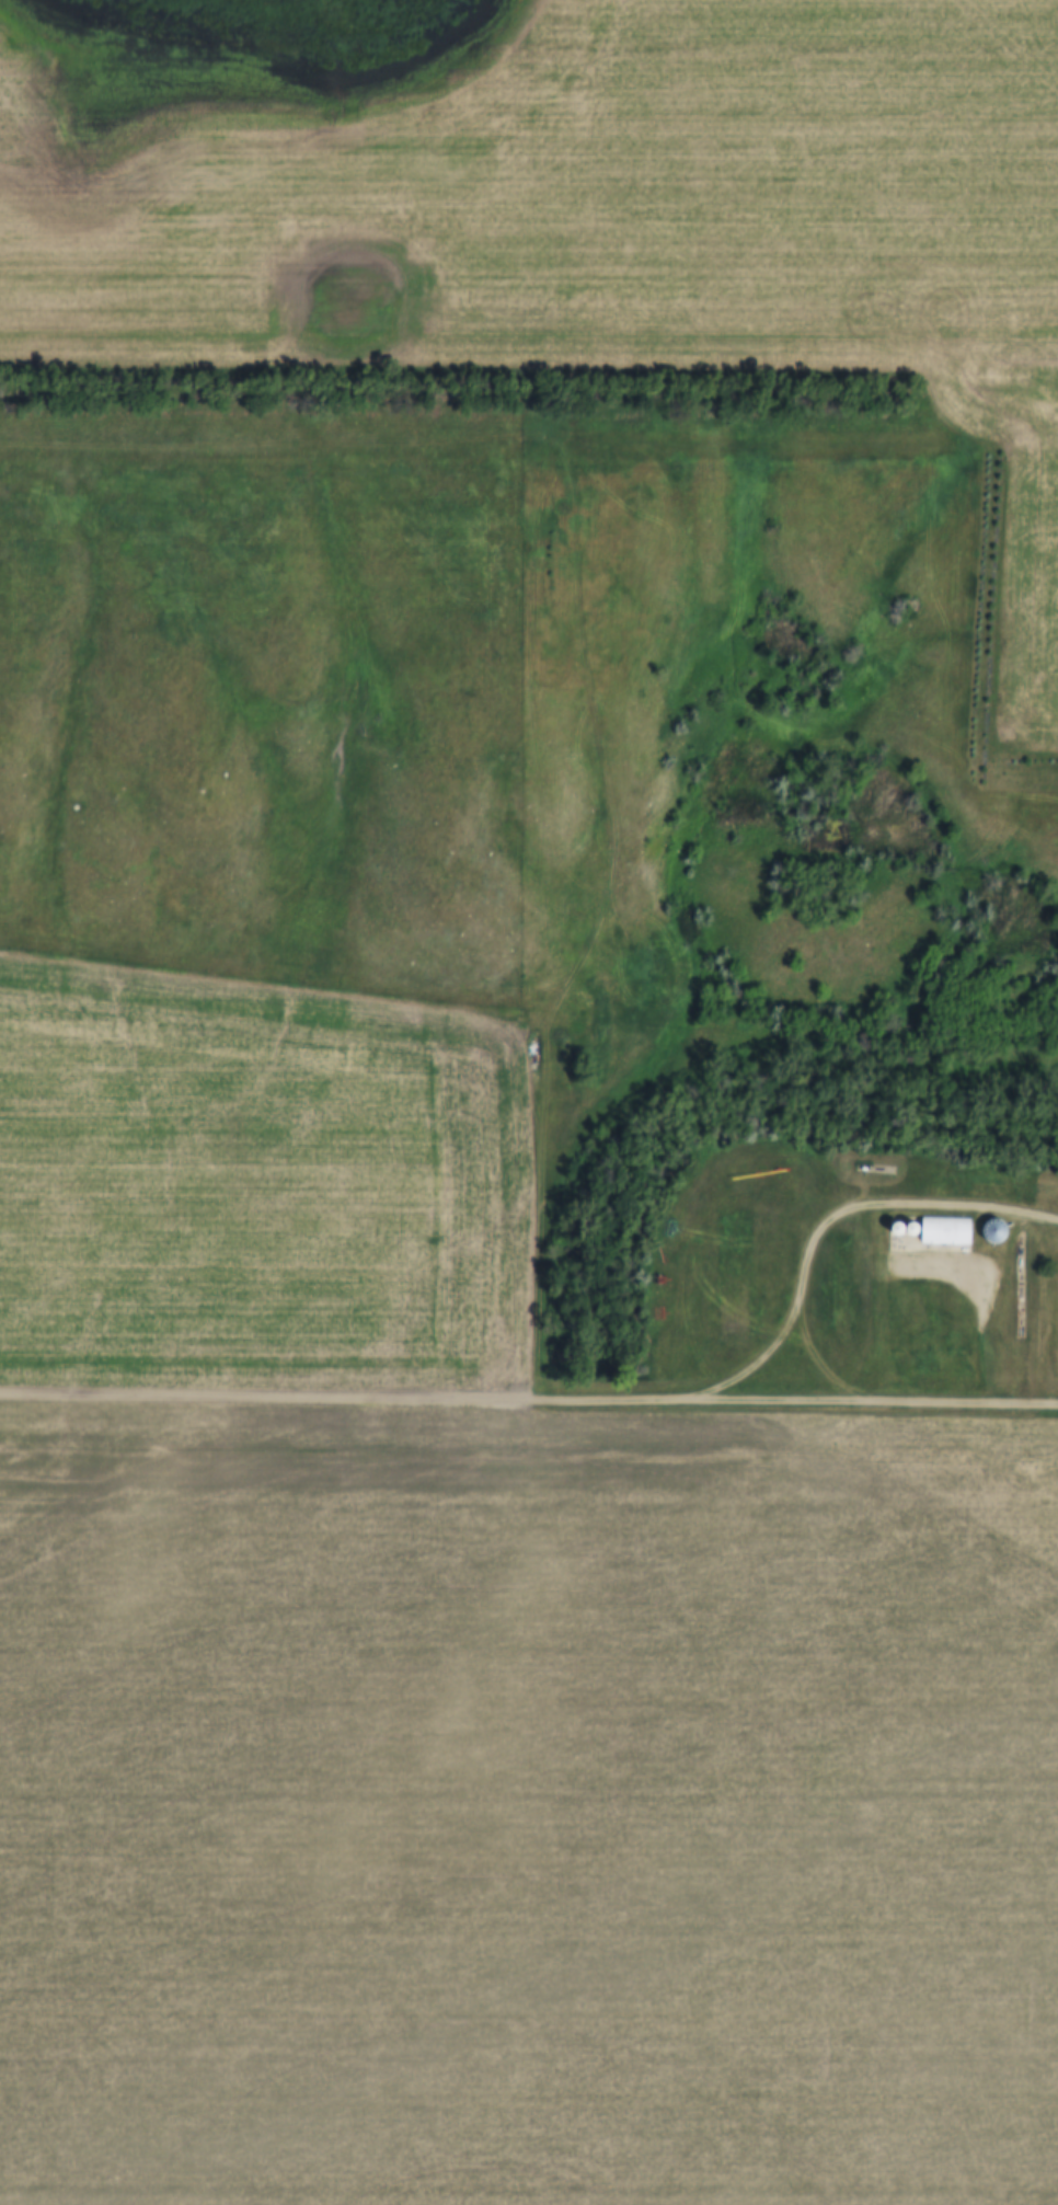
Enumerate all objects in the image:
road: (826, 1217)
building: (998, 1230)
road: (347, 1397)
road: (877, 1399)

